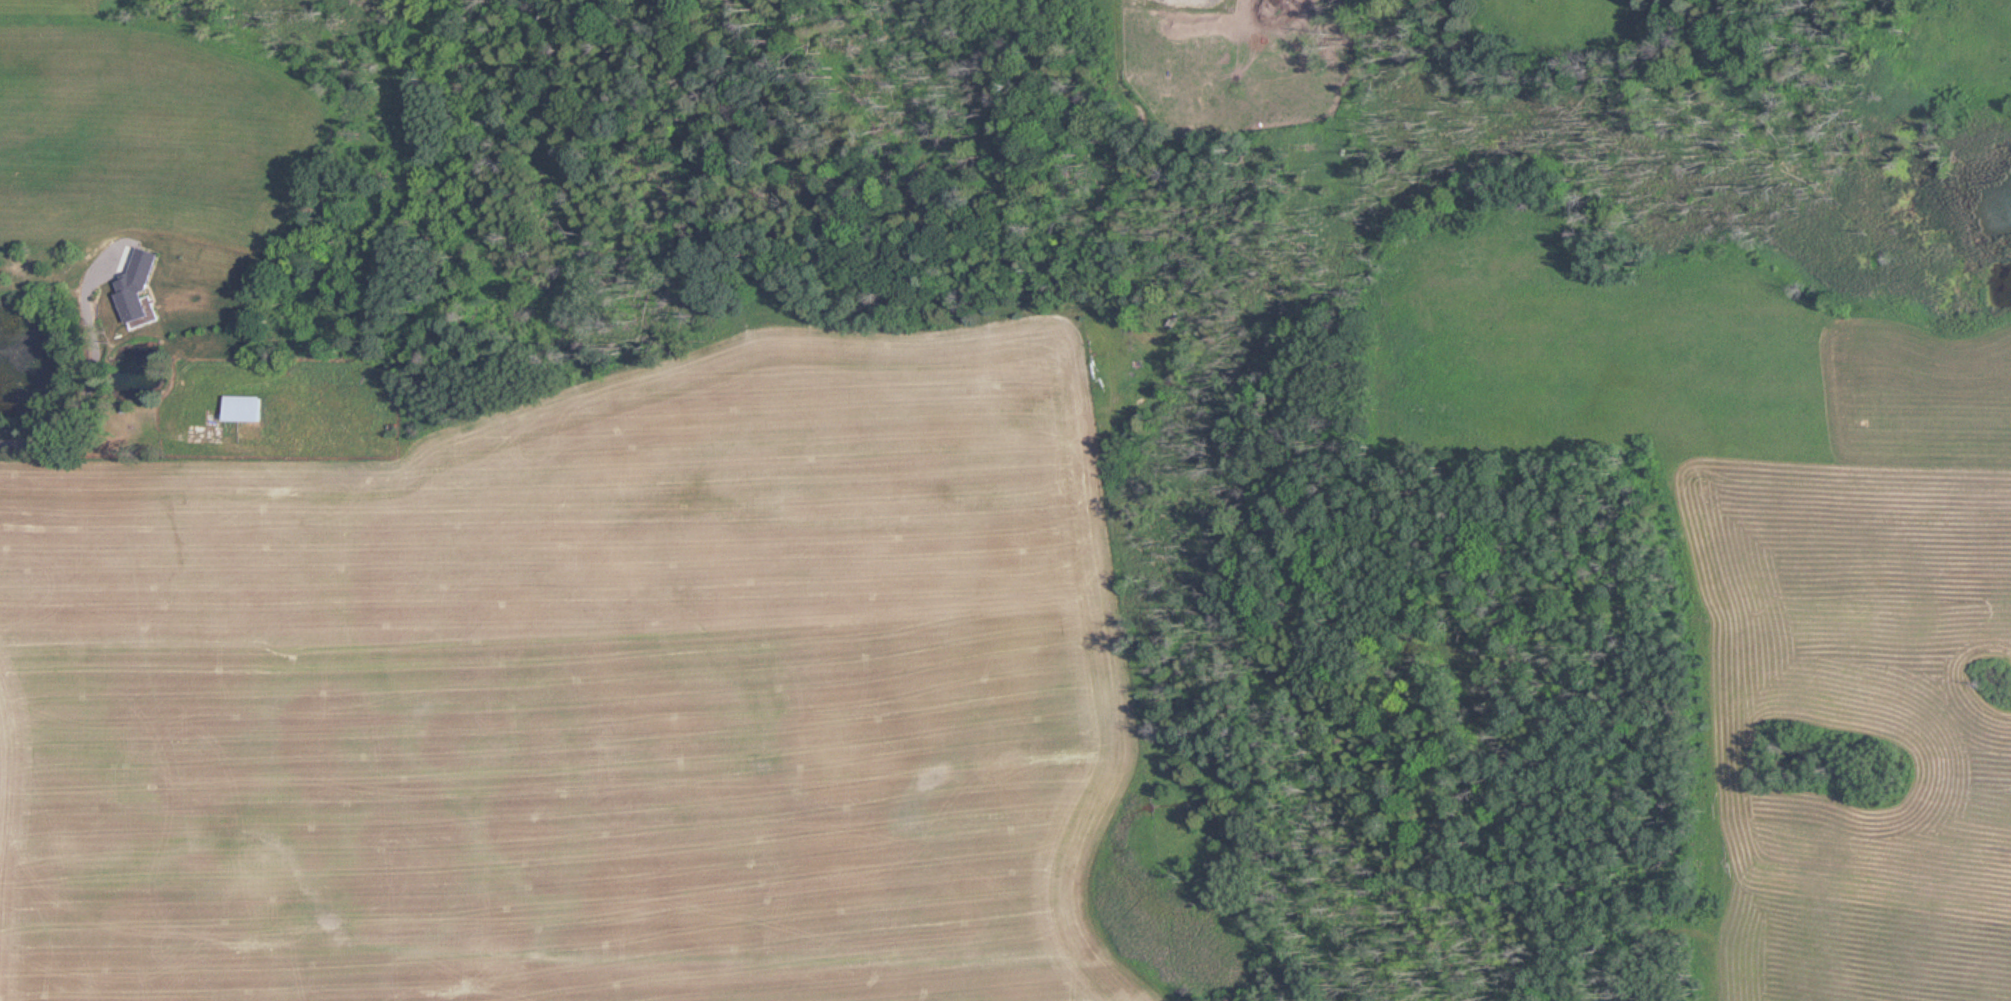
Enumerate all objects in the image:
building: (137, 306)
building: (247, 409)
building: (207, 418)

